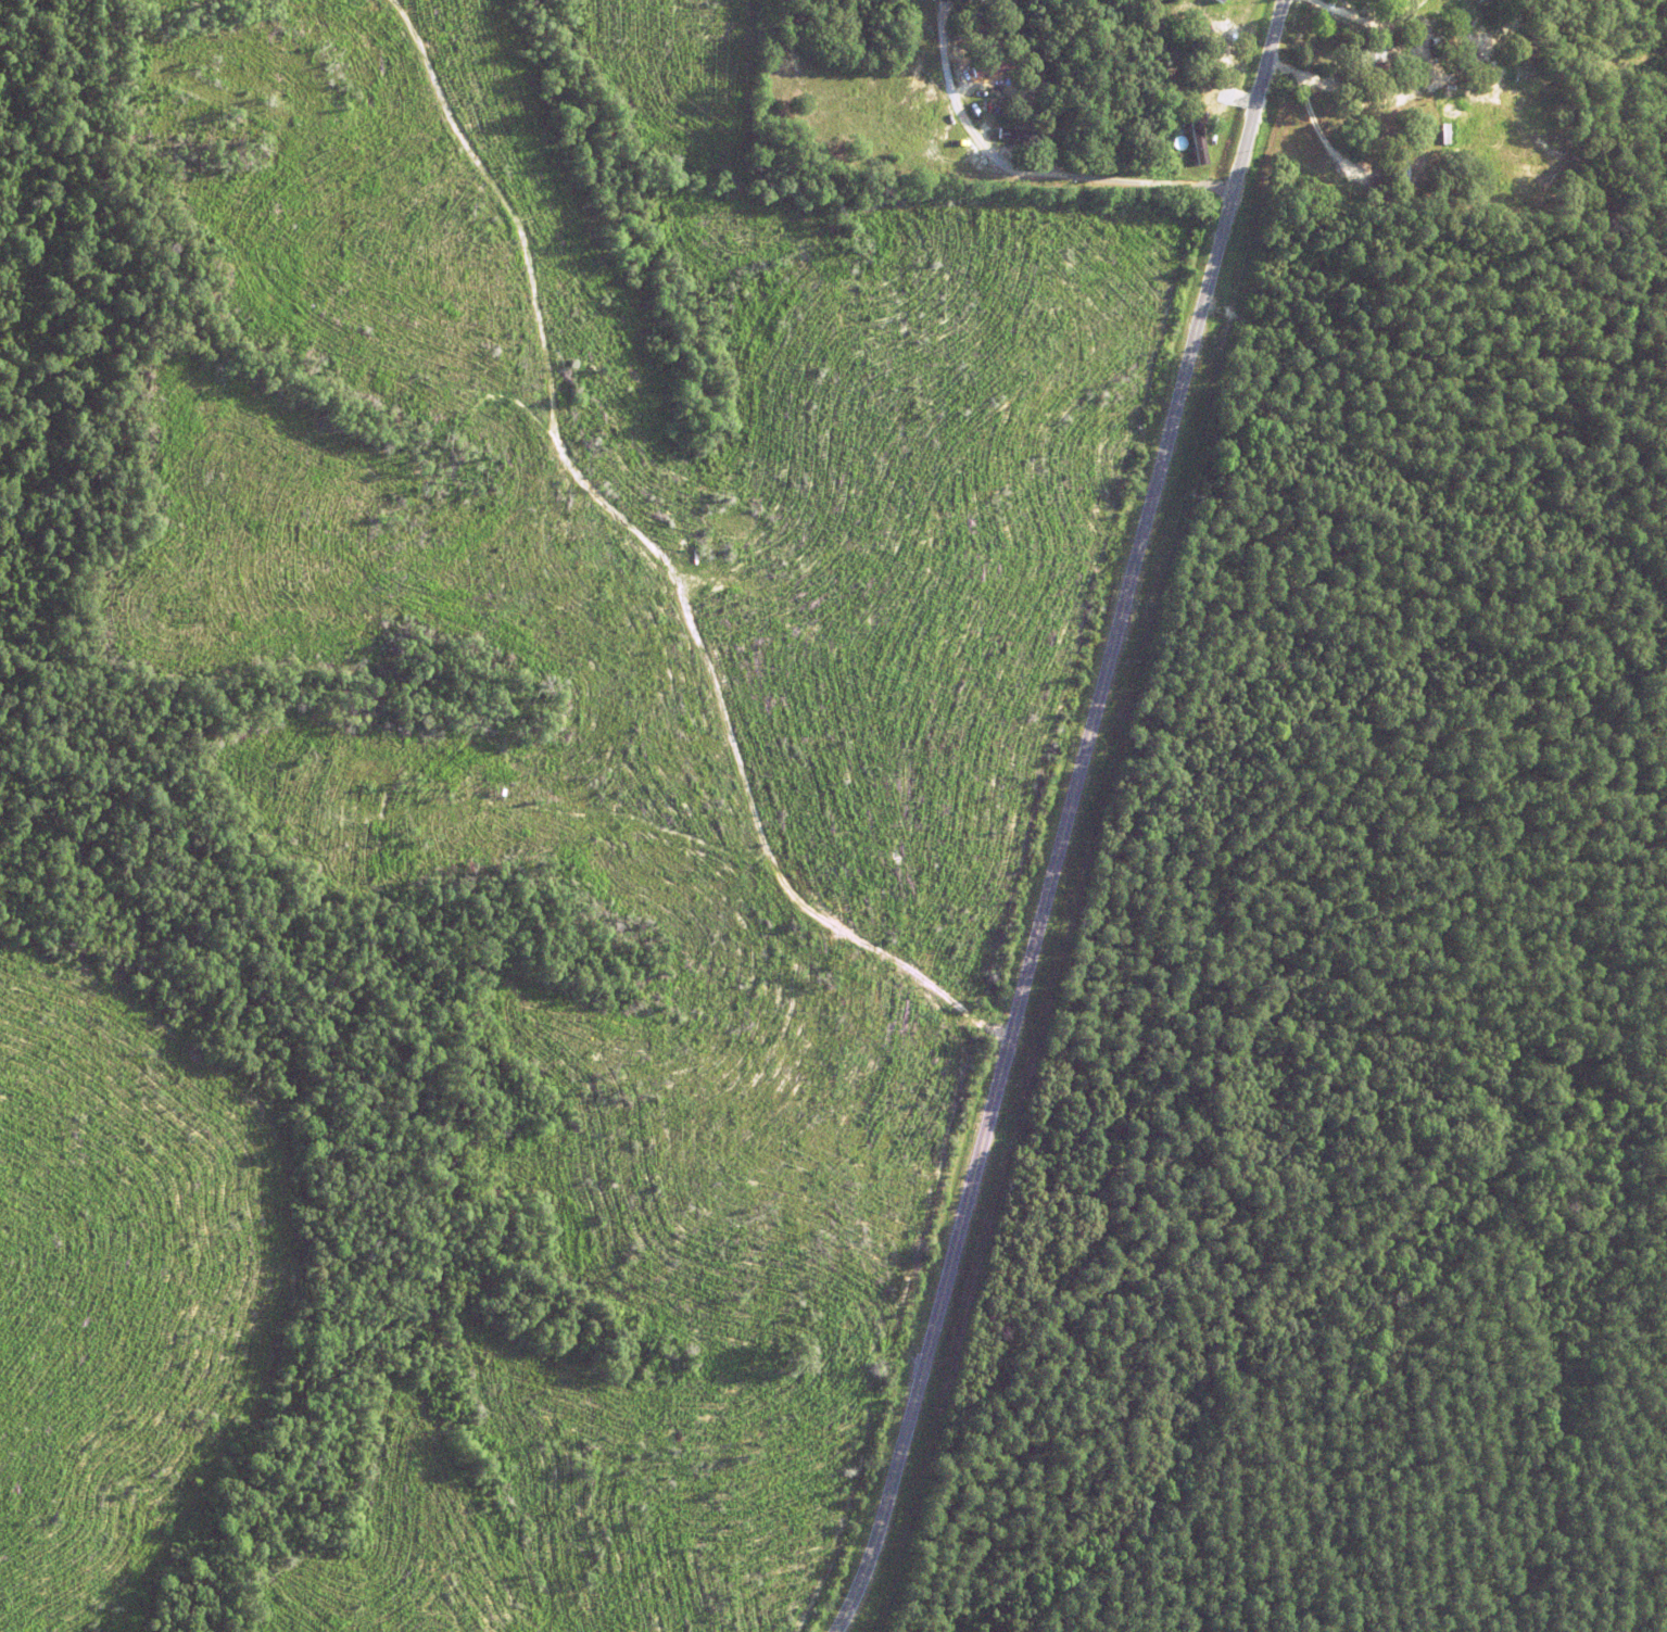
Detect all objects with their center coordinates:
building: (1011, 0)
building: (1401, 22)
building: (1177, 54)
building: (1006, 66)
building: (1360, 66)
building: (1416, 119)
building: (1010, 135)
building: (1028, 139)
building: (1184, 149)
building: (1396, 172)
road: (1068, 818)

